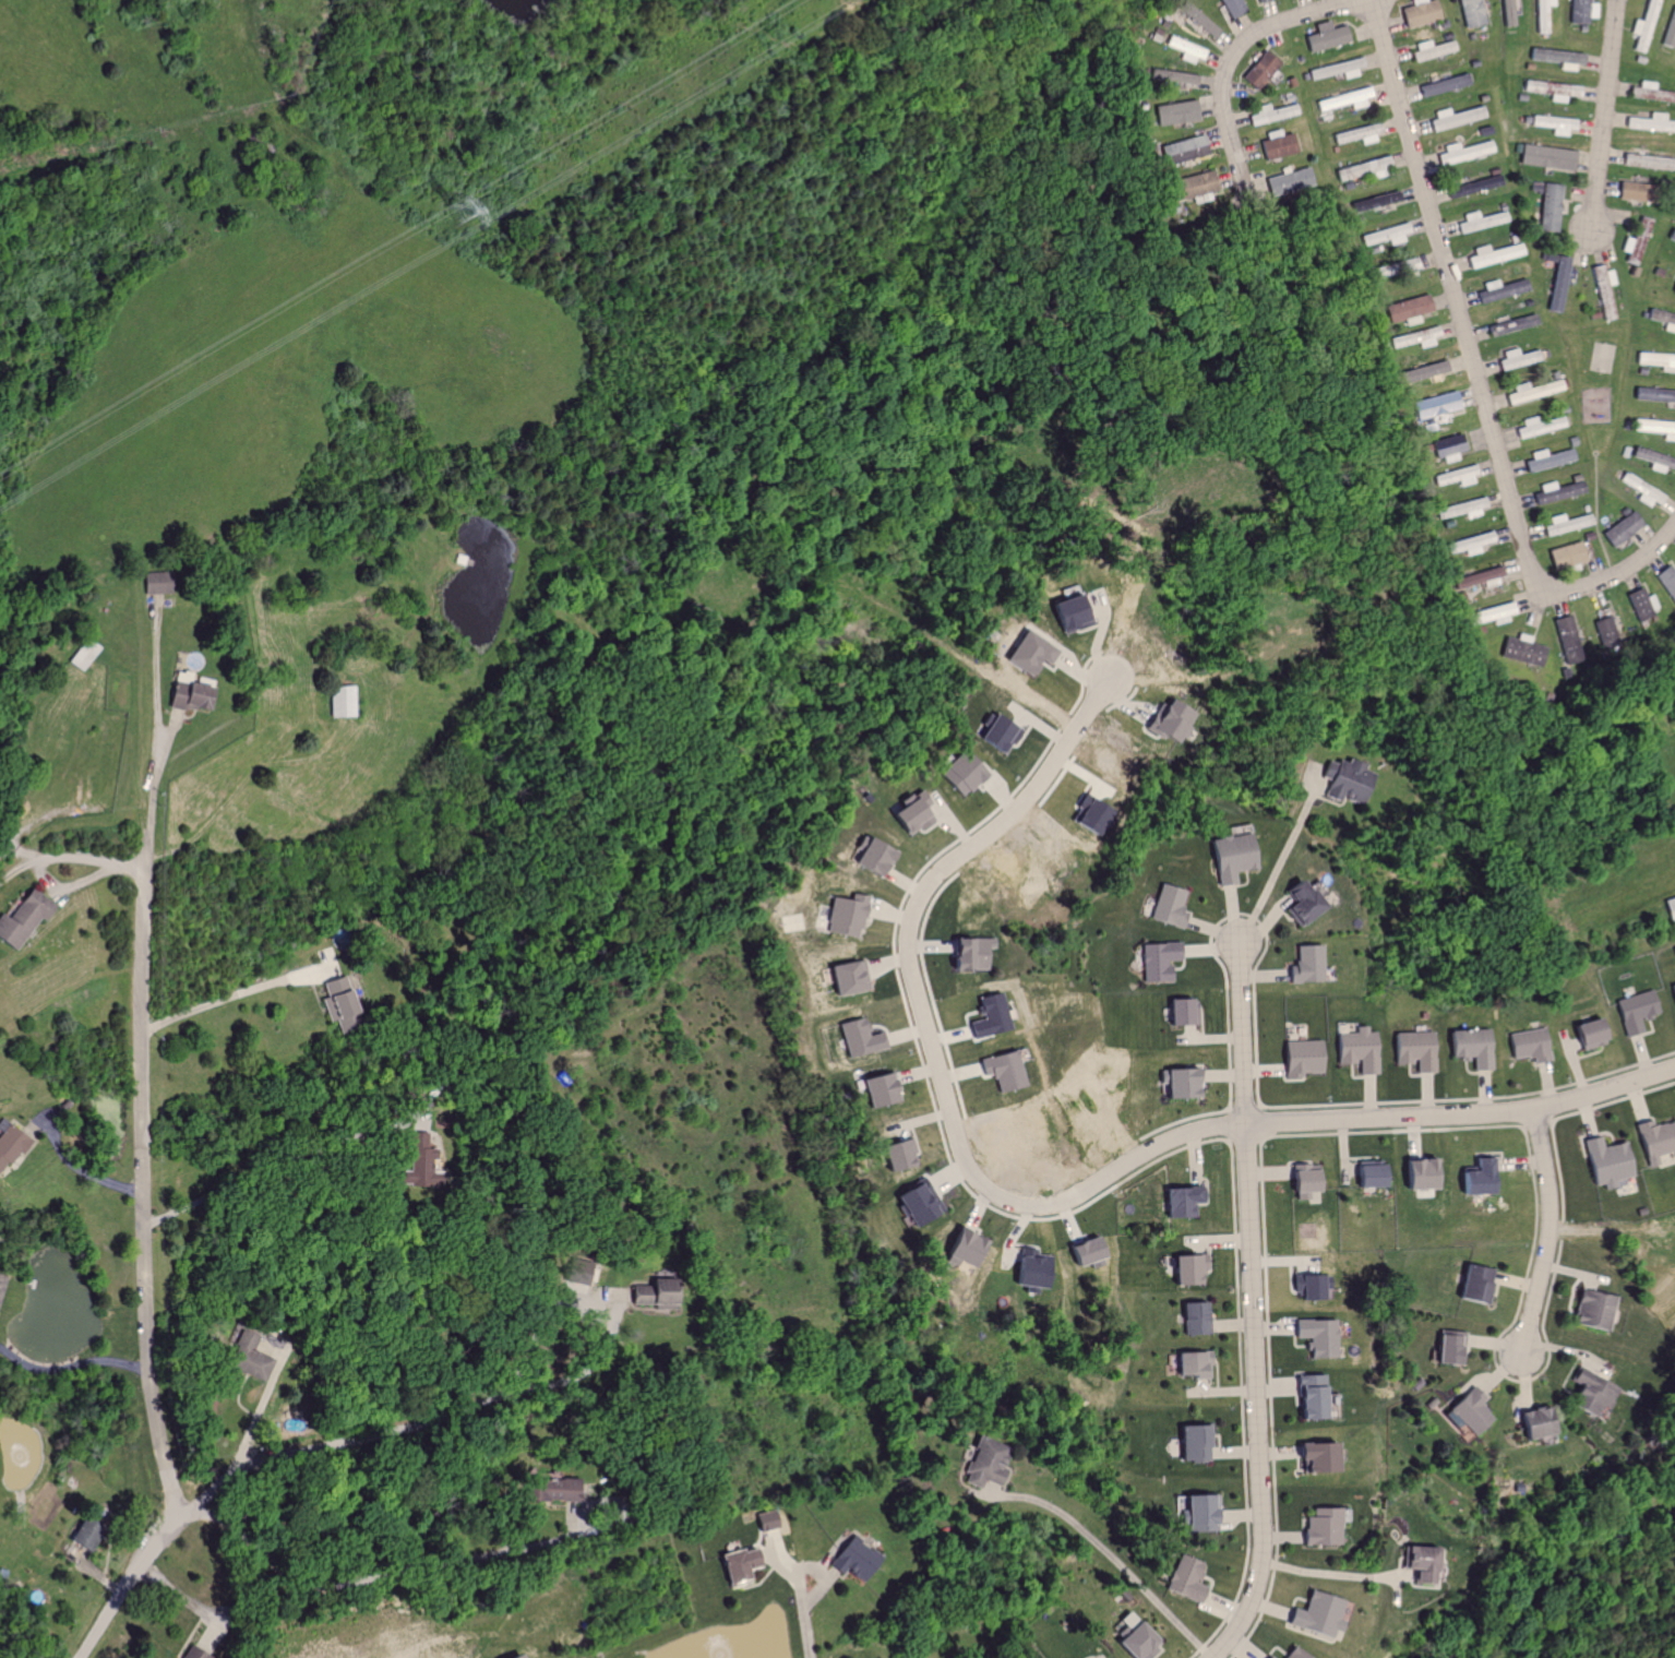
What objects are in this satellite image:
building: (1259, 0)
building: (1232, 8)
building: (1584, 11)
building: (1421, 12)
building: (1474, 13)
building: (1512, 13)
building: (1546, 16)
building: (1200, 22)
building: (1648, 26)
building: (1672, 34)
building: (1327, 38)
building: (1185, 49)
building: (1434, 50)
road: (1231, 61)
building: (1339, 69)
building: (1260, 70)
building: (1173, 76)
building: (1445, 85)
building: (1539, 85)
building: (1348, 99)
building: (1176, 112)
building: (1273, 114)
road: (1605, 116)
building: (1458, 118)
building: (1651, 122)
building: (1559, 124)
building: (1361, 134)
building: (1278, 146)
building: (1185, 150)
building: (1467, 152)
building: (1550, 156)
building: (1647, 162)
building: (1364, 170)
building: (1289, 182)
building: (1194, 186)
building: (1475, 186)
building: (1631, 191)
building: (1378, 201)
building: (1550, 204)
power tower: (464, 212)
building: (1481, 222)
building: (1388, 235)
building: (1671, 236)
building: (1637, 241)
building: (1494, 254)
building: (1558, 284)
building: (1674, 288)
building: (1604, 290)
building: (1501, 291)
building: (1408, 310)
building: (1662, 319)
building: (1510, 325)
building: (1417, 337)
building: (1517, 358)
building: (1656, 360)
building: (1426, 372)
road: (1475, 372)
building: (1531, 391)
building: (1653, 395)
building: (1436, 405)
building: (1541, 425)
building: (1655, 428)
building: (1448, 448)
building: (1546, 460)
building: (1653, 460)
building: (1457, 477)
building: (1642, 490)
building: (1556, 491)
building: (1463, 509)
building: (1564, 524)
building: (1620, 528)
building: (1469, 545)
building: (1565, 556)
building: (1480, 578)
building: (1667, 581)
building: (1641, 603)
building: (1067, 611)
building: (1492, 615)
building: (1603, 627)
building: (1565, 634)
building: (1522, 649)
building: (1027, 653)
road: (155, 684)
building: (188, 693)
building: (339, 702)
building: (1166, 720)
building: (995, 733)
building: (961, 773)
building: (1343, 780)
road: (153, 791)
building: (910, 815)
building: (1089, 816)
road: (69, 856)
building: (1231, 857)
building: (871, 858)
road: (1281, 864)
building: (1297, 903)
building: (1166, 906)
building: (1668, 909)
building: (846, 916)
building: (29, 918)
building: (969, 954)
building: (1157, 961)
building: (1304, 965)
building: (847, 978)
road: (230, 989)
building: (1672, 993)
building: (336, 997)
building: (1632, 1011)
building: (1181, 1012)
building: (989, 1017)
building: (1588, 1034)
building: (859, 1038)
building: (1527, 1045)
building: (1468, 1048)
building: (1355, 1050)
building: (1412, 1050)
building: (1301, 1058)
building: (1001, 1071)
building: (1184, 1084)
building: (876, 1090)
building: (1653, 1141)
building: (13, 1144)
building: (898, 1155)
building: (418, 1161)
road: (275, 1162)
building: (1604, 1162)
road: (84, 1167)
building: (1368, 1174)
building: (1419, 1174)
building: (1476, 1178)
building: (1303, 1181)
road: (1046, 1201)
building: (1176, 1202)
building: (918, 1203)
road: (1545, 1233)
building: (962, 1250)
building: (1184, 1269)
building: (1029, 1271)
building: (579, 1275)
road: (141, 1281)
building: (1470, 1285)
building: (2, 1287)
building: (1307, 1288)
building: (651, 1293)
road: (1252, 1308)
building: (1590, 1311)
building: (1193, 1320)
building: (1315, 1337)
building: (1446, 1349)
building: (249, 1357)
road: (70, 1364)
building: (1191, 1365)
building: (1590, 1394)
building: (1309, 1397)
building: (1469, 1411)
road: (414, 1422)
building: (1534, 1423)
building: (1192, 1441)
building: (1313, 1455)
building: (982, 1463)
building: (543, 1490)
building: (1197, 1512)
building: (1319, 1526)
building: (851, 1558)
road: (1113, 1558)
building: (1416, 1562)
building: (734, 1566)
road: (815, 1566)
road: (379, 1568)
road: (1327, 1573)
building: (1181, 1577)
building: (1314, 1613)
road: (807, 1632)
building: (1132, 1638)
building: (1290, 1654)
building: (510, 1655)
building: (1265, 1656)

